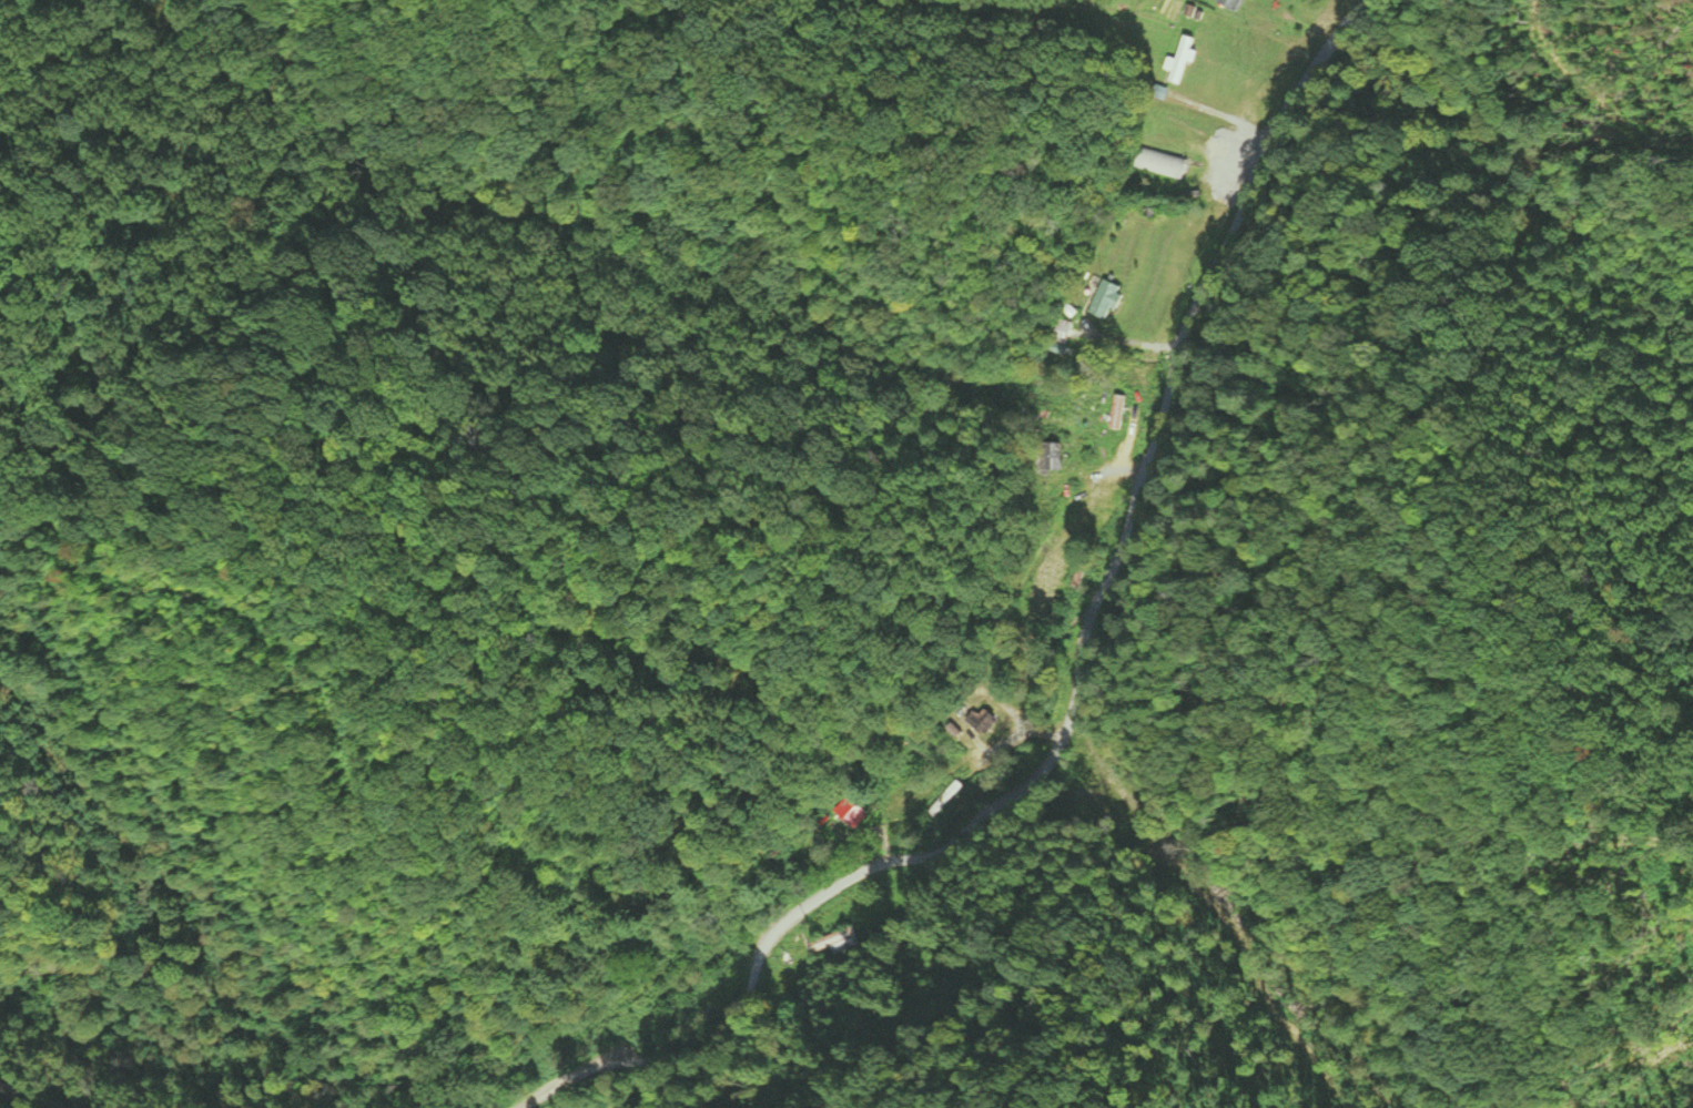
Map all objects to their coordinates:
building: (1236, 3)
building: (1184, 60)
building: (1167, 165)
building: (1111, 299)
building: (1121, 413)
road: (1068, 685)
building: (987, 721)
building: (949, 799)
road: (108, 1051)

